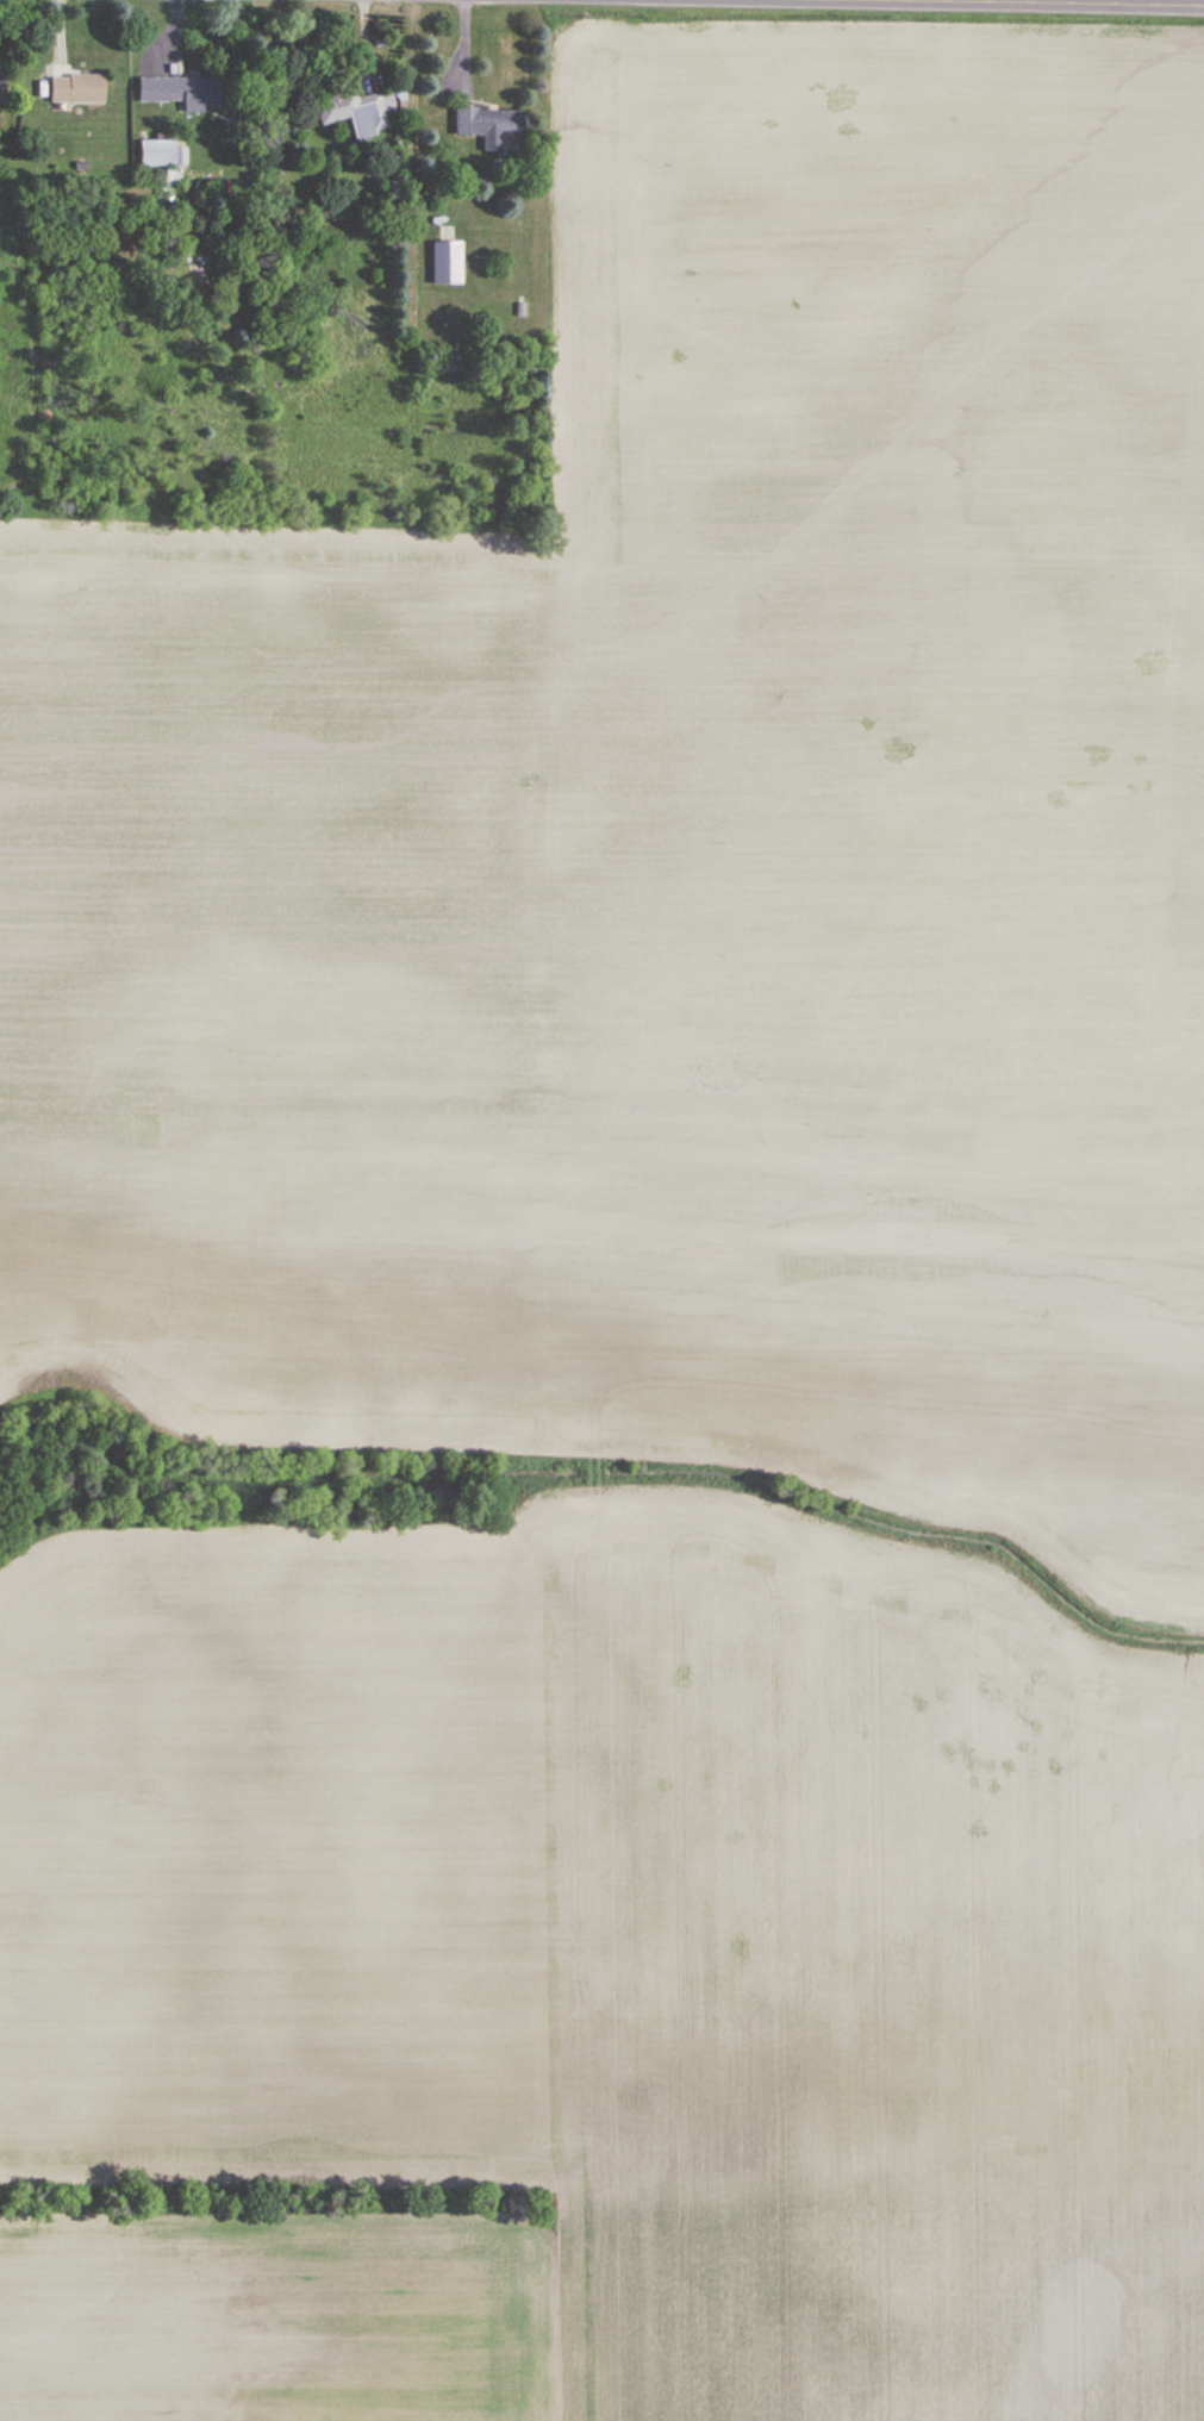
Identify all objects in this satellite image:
road: (1128, 1)
building: (2, 88)
building: (77, 89)
building: (179, 91)
building: (357, 113)
building: (488, 126)
building: (157, 154)
building: (448, 263)

